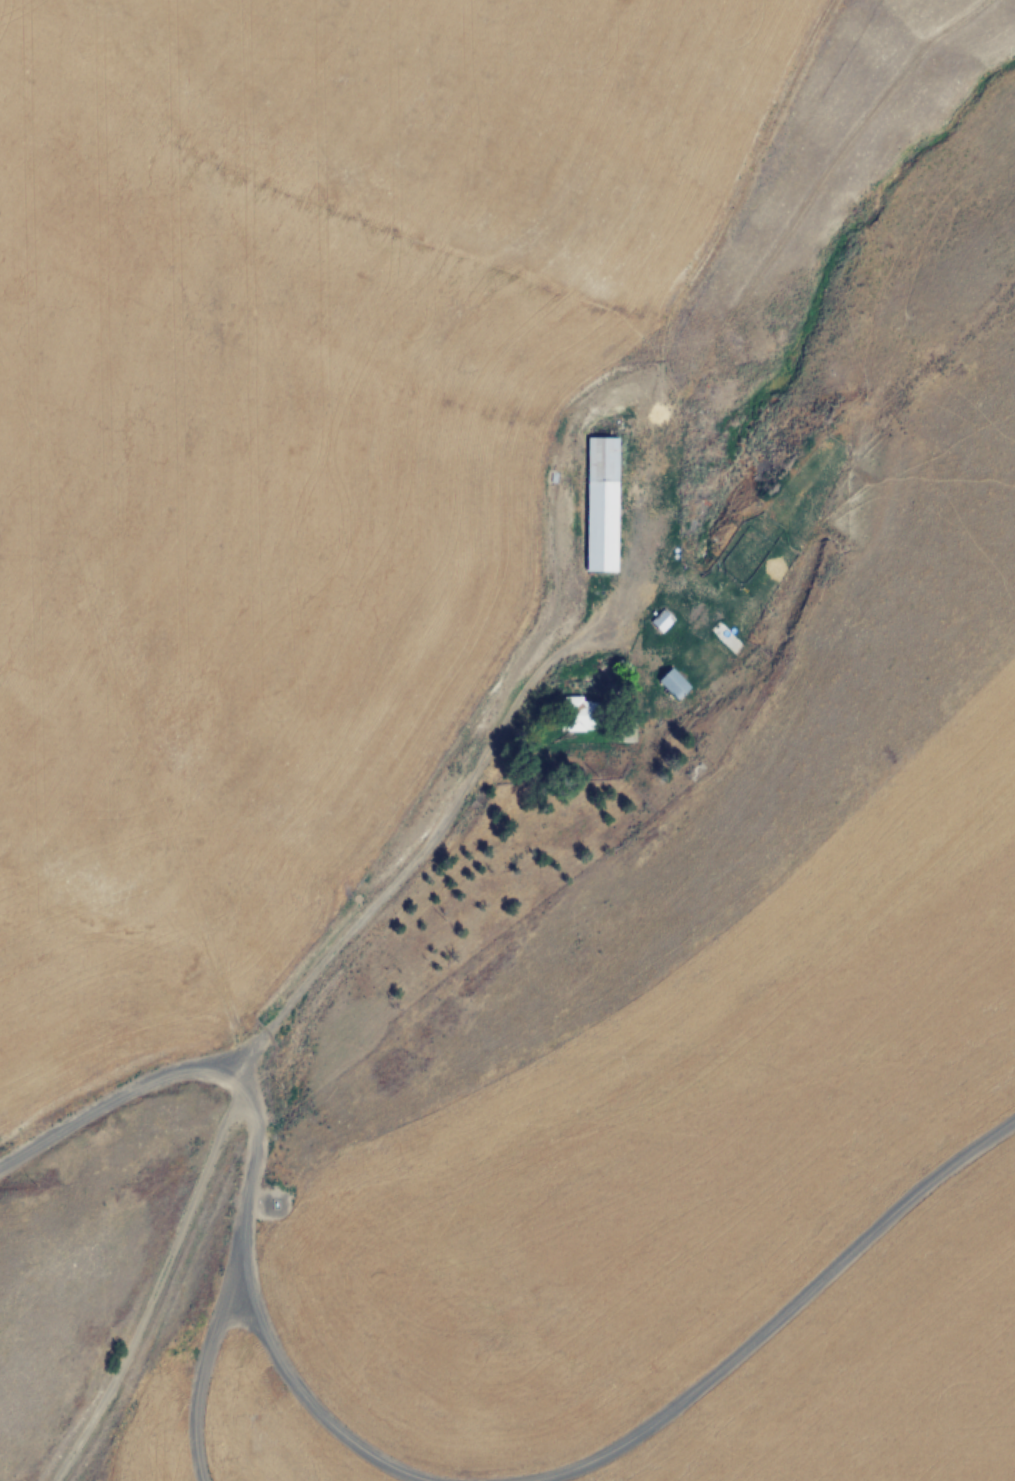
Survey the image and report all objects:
building: (601, 504)
building: (661, 620)
building: (672, 683)
building: (578, 714)
road: (122, 1098)
road: (147, 1288)
road: (240, 1292)
road: (782, 1310)
road: (324, 1414)

